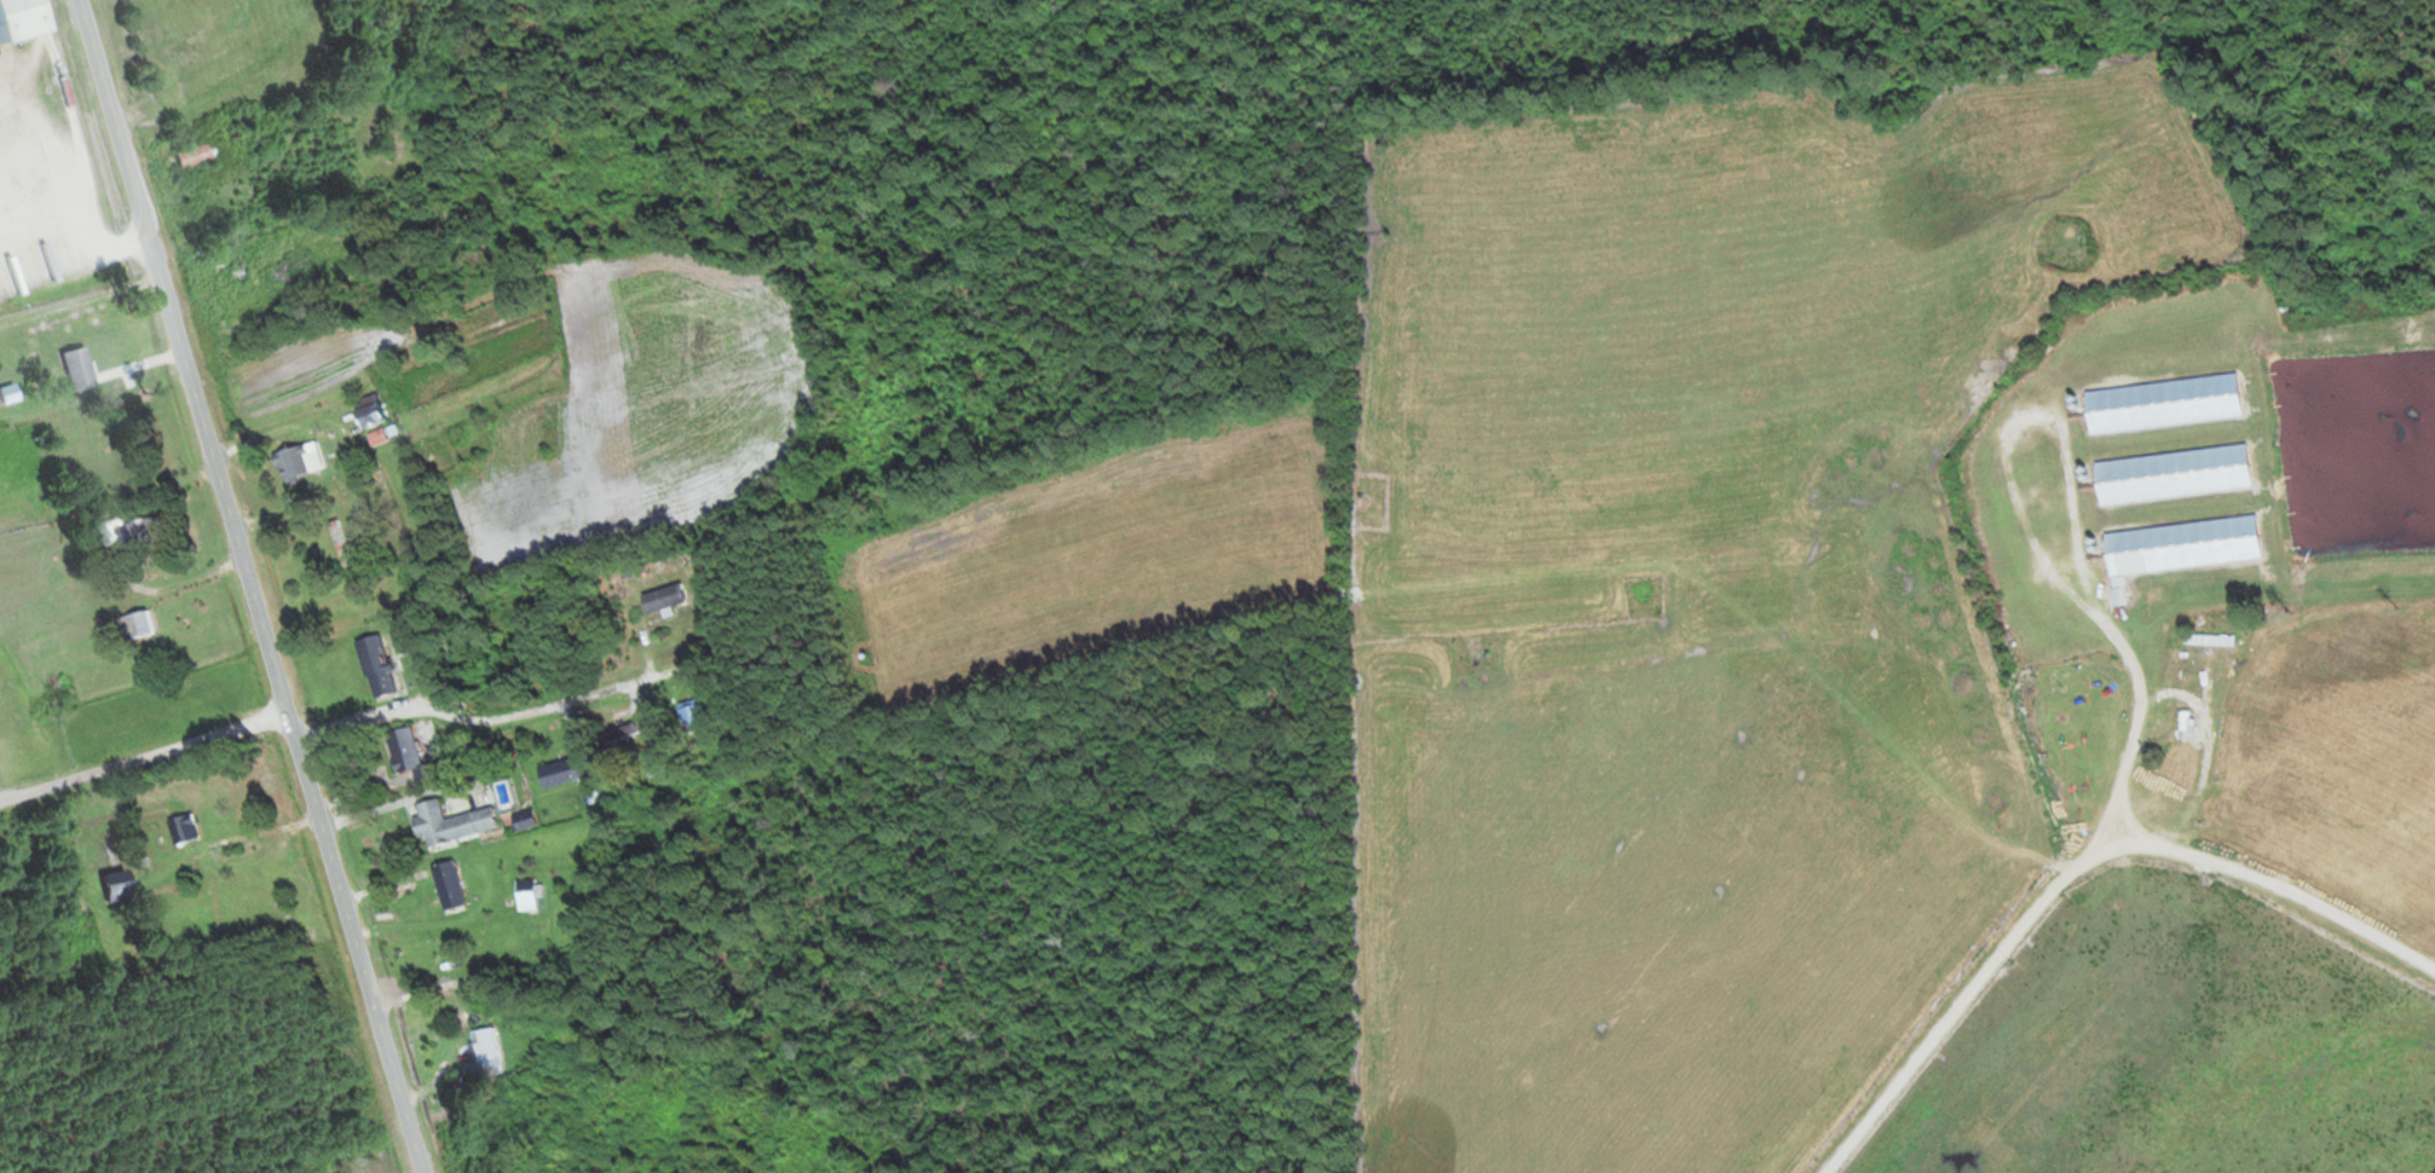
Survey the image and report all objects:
building: (12, 16)
building: (187, 156)
road: (77, 278)
building: (73, 369)
building: (4, 395)
building: (2160, 404)
building: (363, 411)
building: (289, 463)
building: (2170, 474)
building: (129, 533)
building: (335, 538)
building: (2181, 545)
road: (250, 586)
building: (2118, 596)
building: (660, 599)
building: (133, 625)
road: (2122, 661)
building: (374, 666)
road: (510, 717)
building: (689, 717)
building: (2162, 723)
building: (627, 729)
road: (143, 747)
building: (402, 751)
building: (558, 773)
building: (521, 820)
building: (448, 822)
building: (181, 828)
road: (2067, 867)
building: (445, 885)
building: (109, 888)
building: (526, 890)
building: (481, 1053)
building: (348, 1172)

